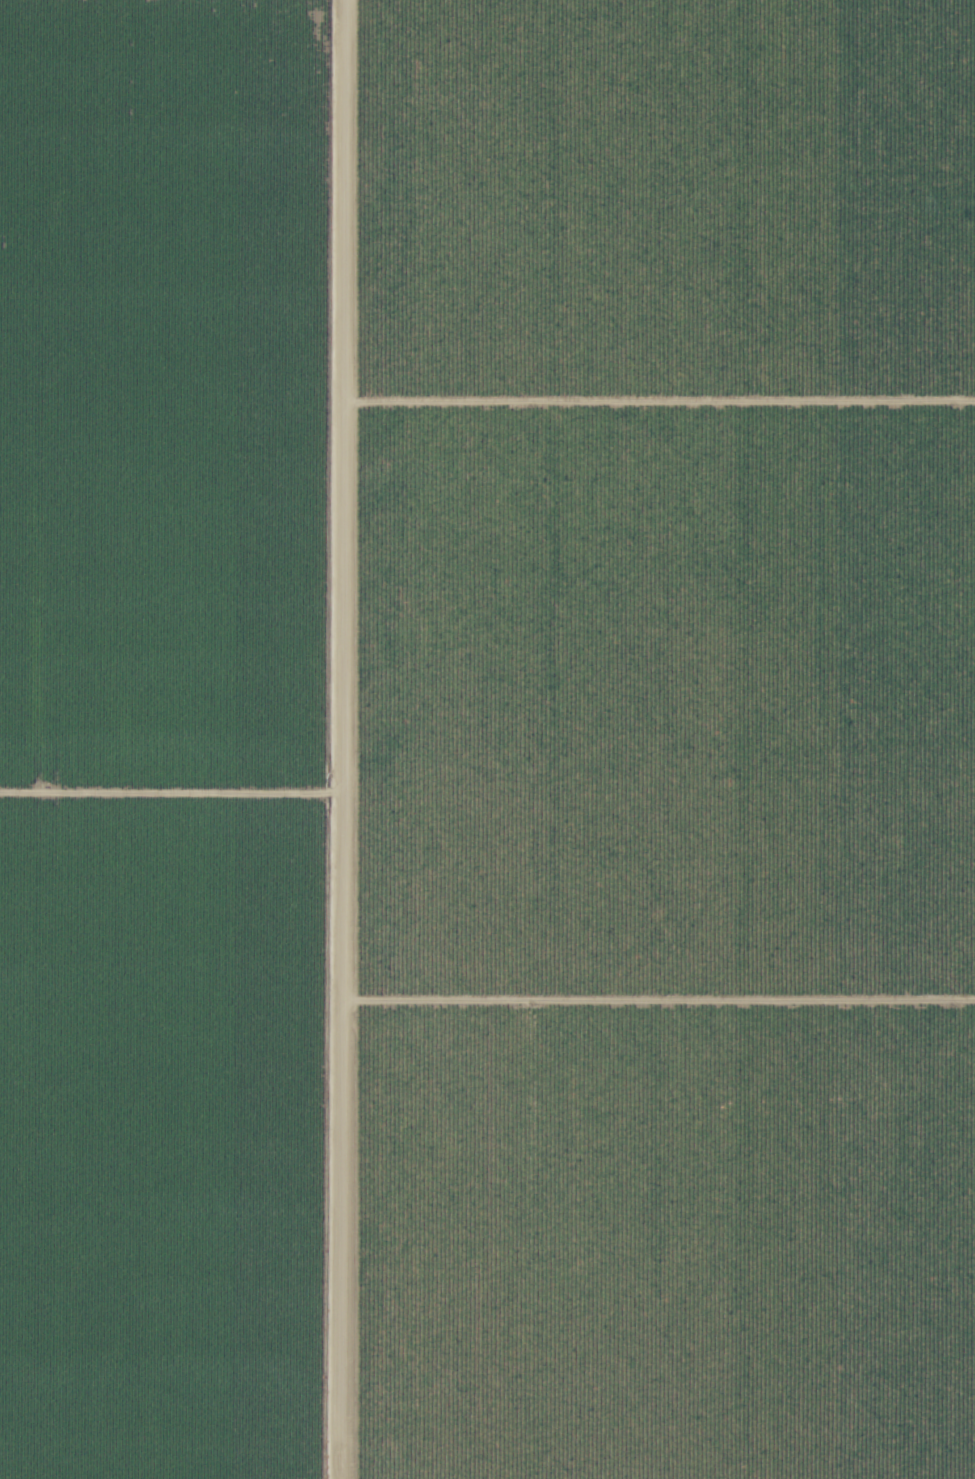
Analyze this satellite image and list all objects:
road: (302, 739)
crop: (170, 740)

